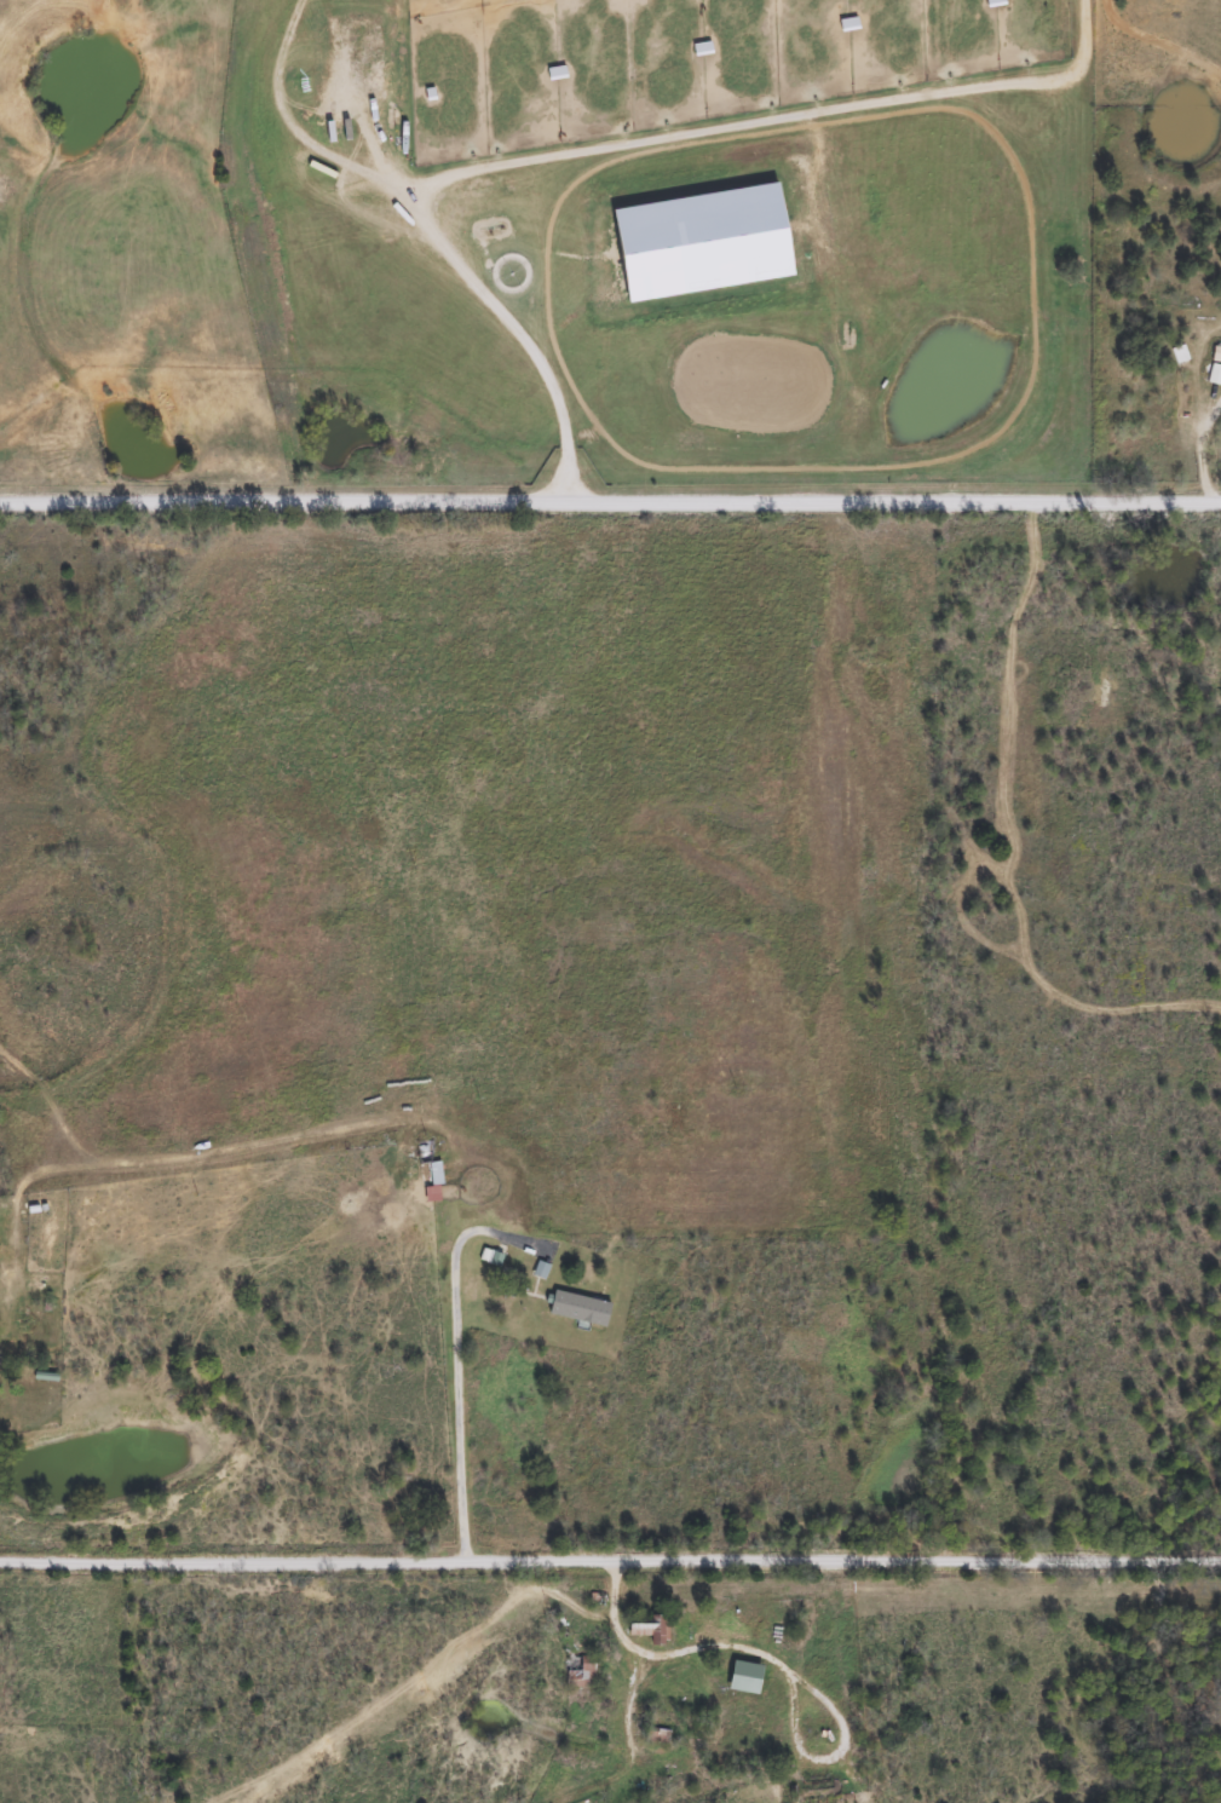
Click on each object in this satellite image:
building: (1179, 355)
building: (1214, 374)
road: (610, 502)
road: (155, 1159)
building: (415, 1162)
building: (578, 1307)
road: (470, 1417)
road: (610, 1560)
building: (647, 1628)
building: (581, 1670)
road: (820, 1683)
building: (660, 1735)

